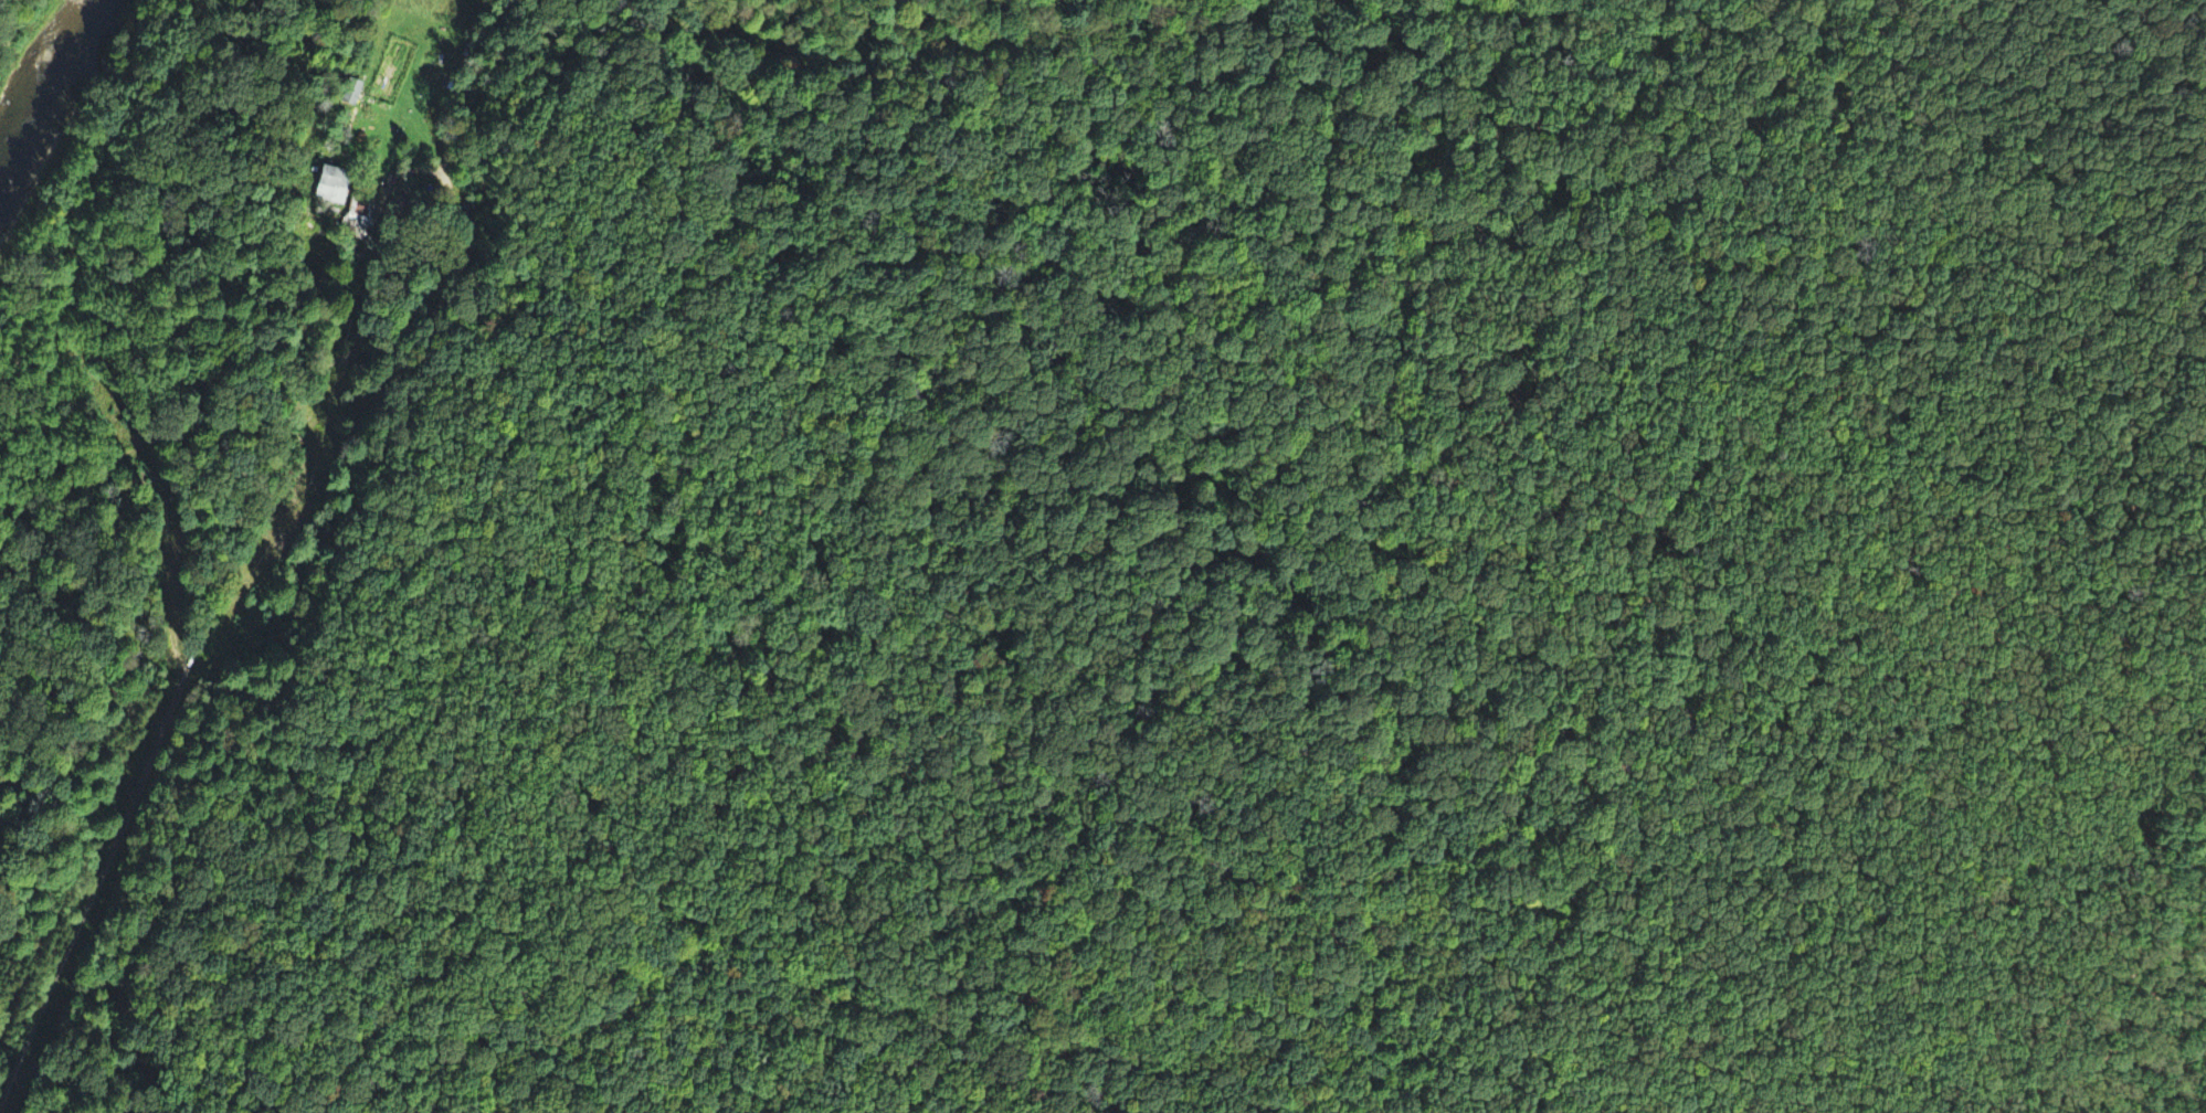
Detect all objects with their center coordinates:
river: (42, 76)
building: (325, 184)

